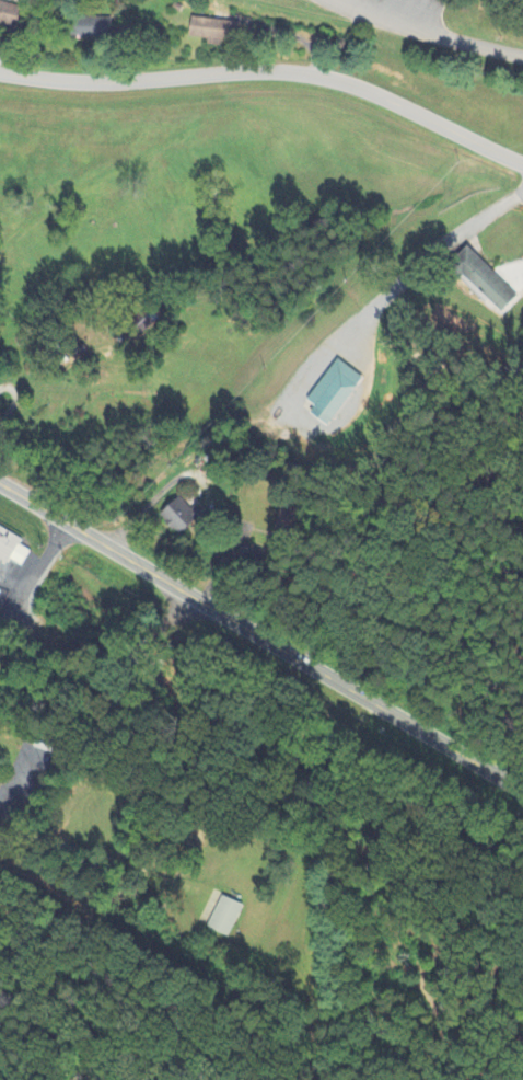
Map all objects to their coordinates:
building: (10, 13)
building: (90, 26)
road: (431, 31)
building: (211, 33)
road: (295, 39)
road: (2, 42)
road: (126, 57)
road: (270, 71)
building: (487, 278)
road: (520, 279)
road: (393, 287)
building: (139, 324)
building: (336, 391)
road: (150, 504)
building: (183, 516)
building: (292, 516)
building: (9, 543)
building: (23, 556)
road: (34, 573)
road: (12, 584)
road: (260, 637)
building: (140, 697)
road: (18, 784)
road: (89, 852)
building: (229, 917)
road: (150, 1061)

